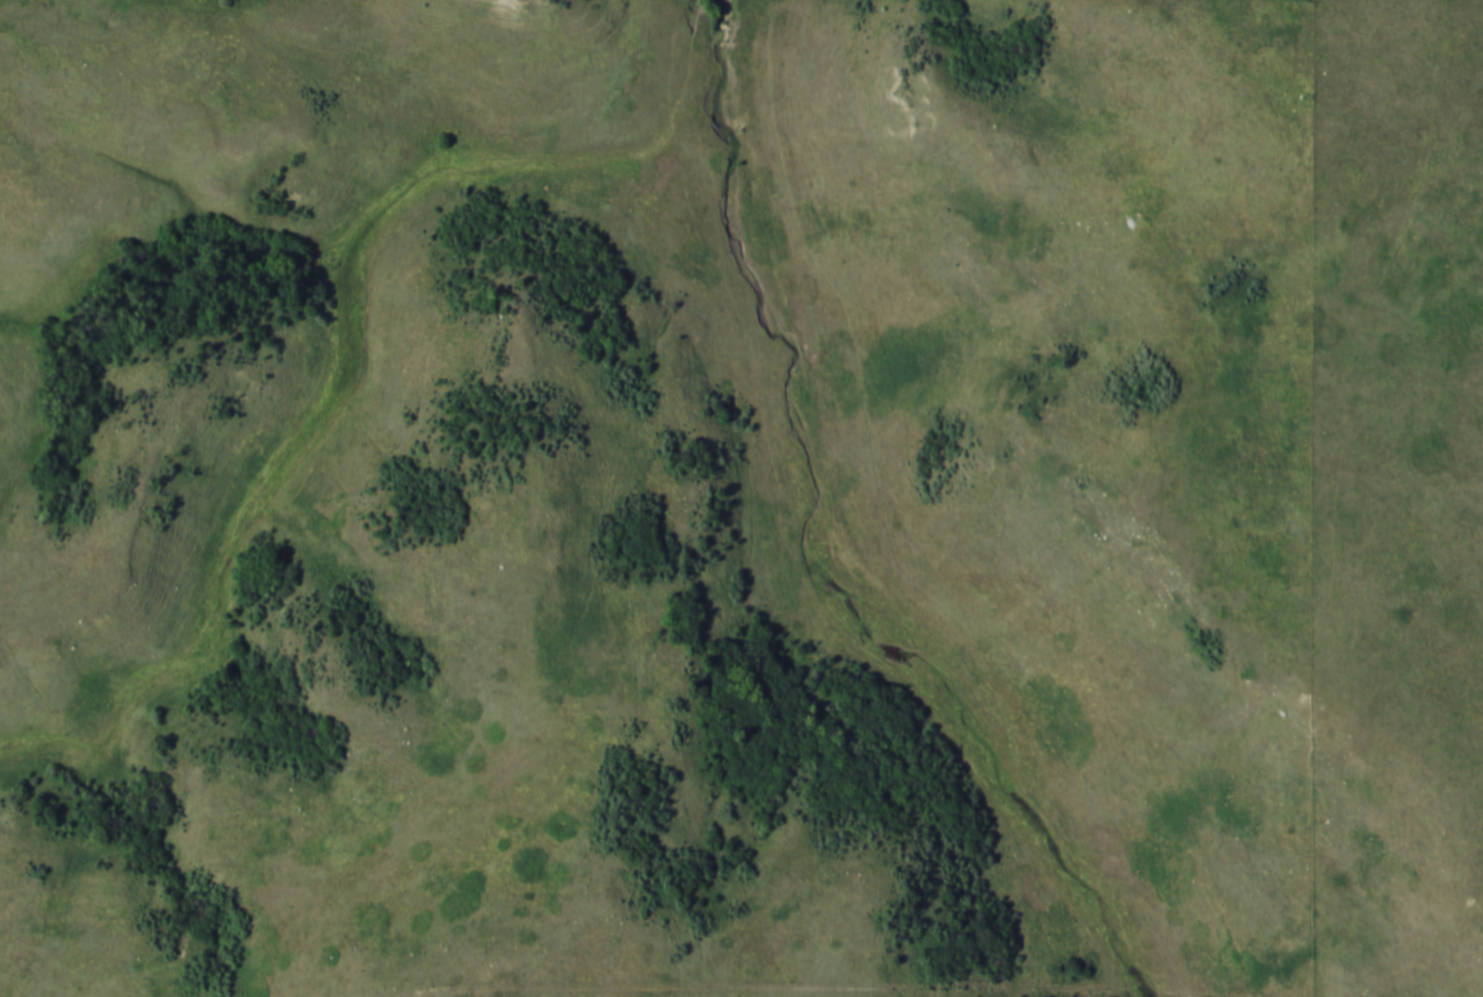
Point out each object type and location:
road: (701, 1)
road: (789, 987)

